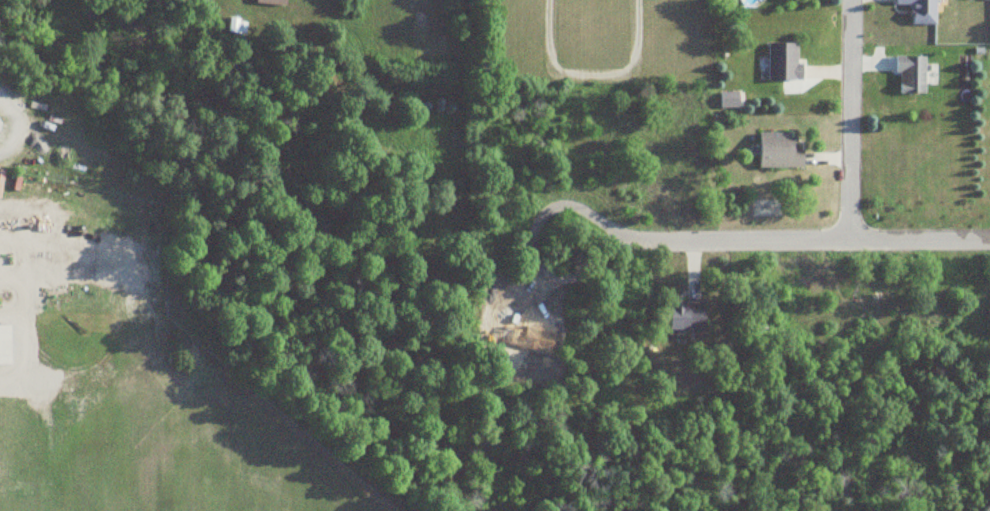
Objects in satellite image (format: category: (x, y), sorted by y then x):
building: (269, 2)
building: (919, 10)
park: (597, 44)
building: (781, 62)
road: (590, 75)
building: (909, 75)
road: (851, 122)
building: (777, 152)
road: (829, 244)
building: (685, 317)
building: (4, 346)

